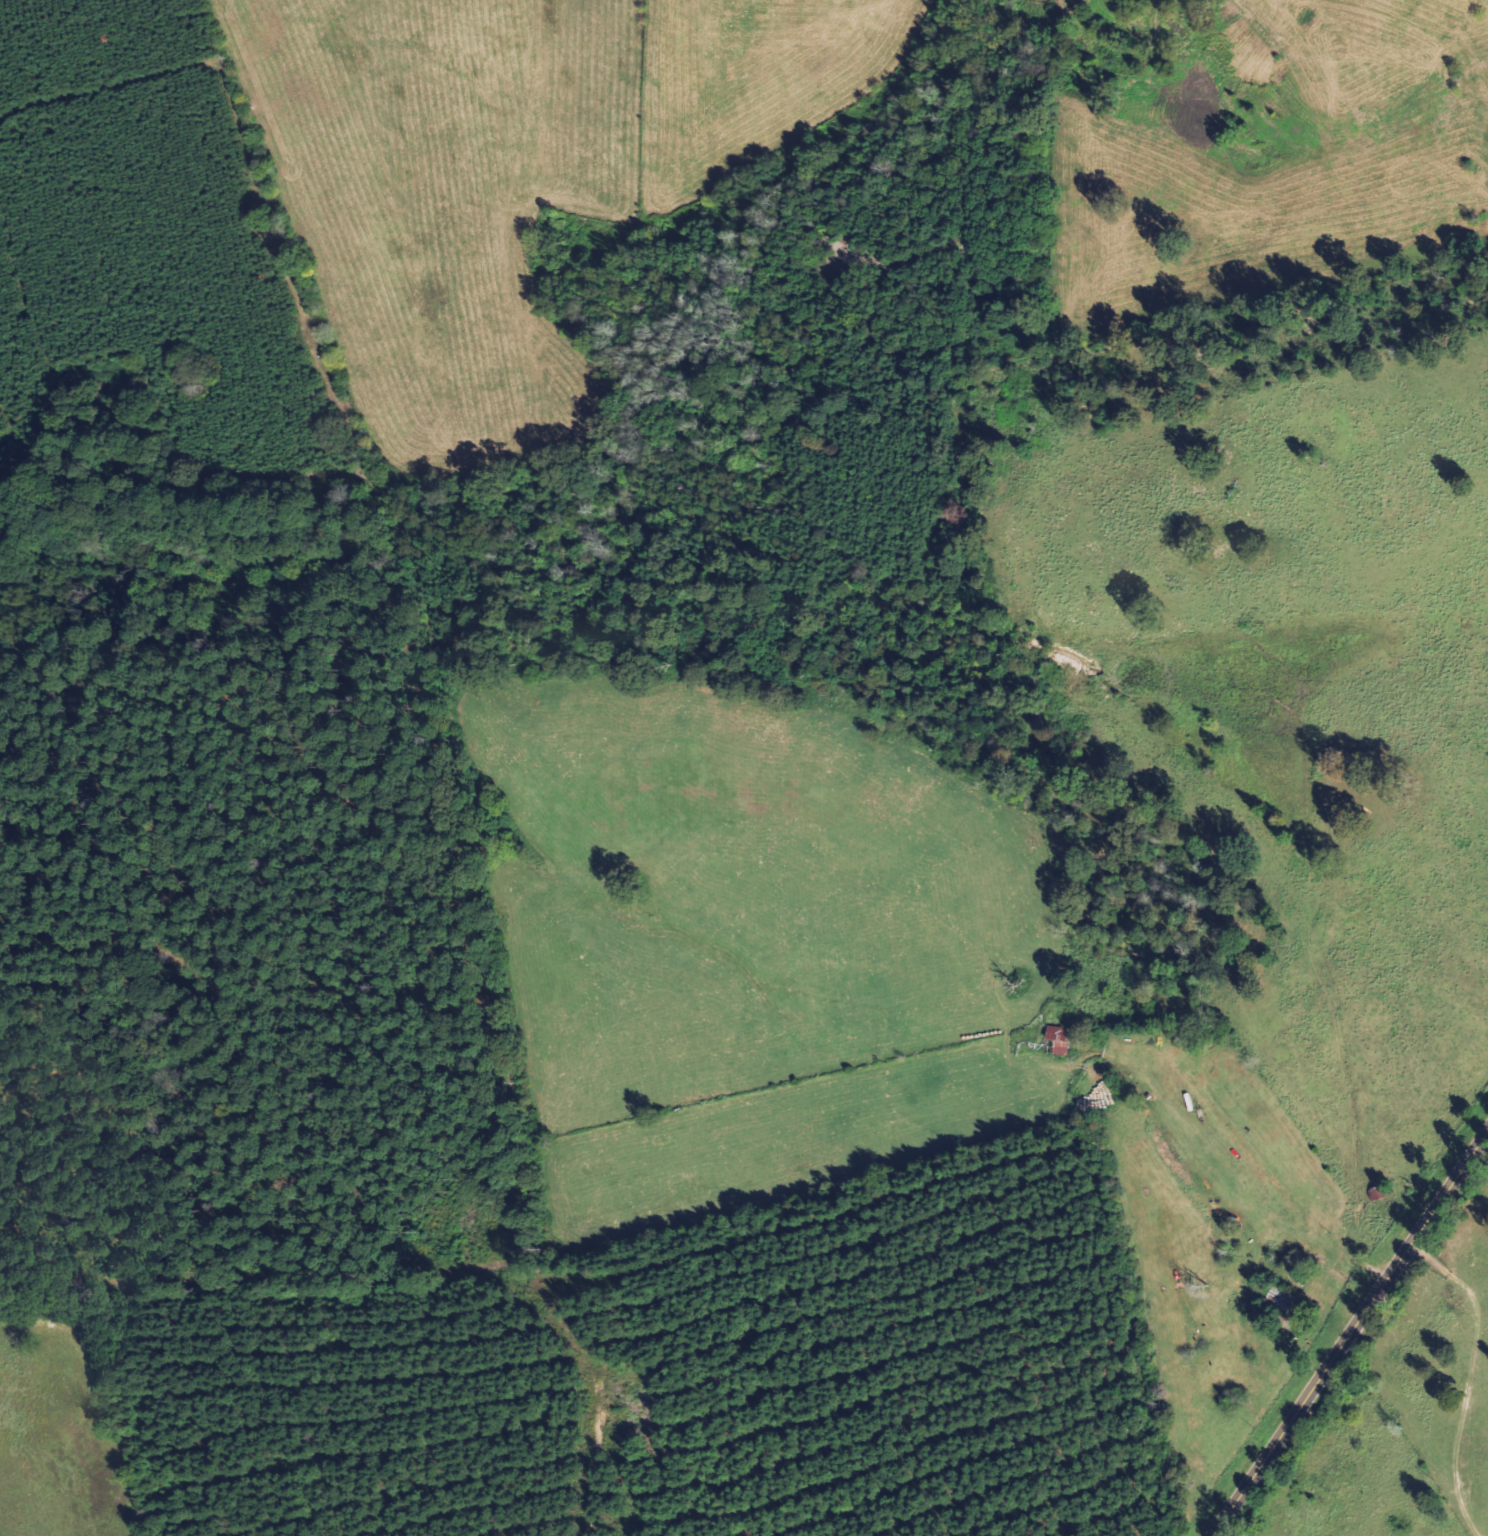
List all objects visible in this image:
building: (1066, 1039)
road: (1351, 1335)
road: (1476, 1379)

